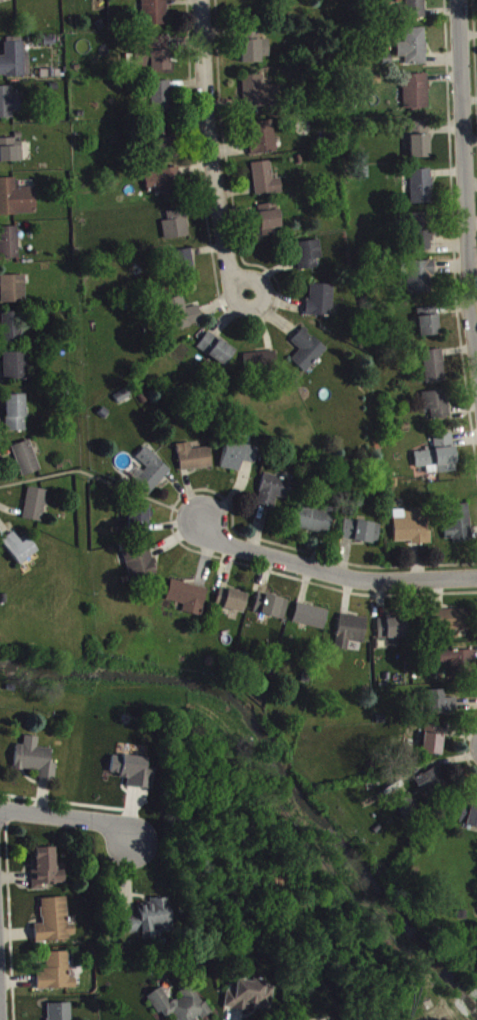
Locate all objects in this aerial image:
building: (5, 1)
building: (414, 11)
building: (155, 16)
building: (255, 51)
building: (415, 51)
building: (155, 59)
building: (14, 65)
building: (417, 96)
building: (259, 99)
building: (162, 102)
building: (9, 107)
building: (263, 142)
building: (421, 144)
building: (166, 148)
road: (211, 153)
building: (11, 155)
road: (468, 171)
building: (266, 184)
building: (166, 188)
building: (422, 191)
building: (17, 203)
building: (270, 224)
building: (176, 230)
building: (423, 236)
building: (9, 247)
building: (309, 259)
building: (186, 269)
building: (422, 281)
building: (14, 293)
building: (321, 305)
building: (183, 319)
building: (429, 326)
building: (13, 332)
building: (216, 354)
building: (307, 355)
building: (262, 366)
building: (17, 371)
building: (435, 371)
building: (437, 408)
building: (16, 418)
building: (439, 460)
building: (238, 461)
building: (194, 462)
building: (27, 463)
building: (151, 476)
building: (274, 495)
building: (36, 509)
building: (139, 523)
building: (315, 525)
building: (459, 529)
building: (411, 532)
building: (361, 536)
building: (19, 553)
building: (140, 566)
road: (334, 573)
building: (188, 601)
building: (231, 605)
building: (271, 611)
building: (311, 621)
building: (452, 625)
building: (392, 635)
building: (350, 636)
building: (460, 666)
building: (438, 708)
building: (433, 745)
building: (35, 763)
building: (134, 776)
building: (429, 785)
road: (68, 817)
building: (468, 821)
building: (46, 874)
building: (151, 924)
building: (55, 926)
building: (56, 977)
building: (250, 1000)
building: (179, 1007)
building: (60, 1014)

